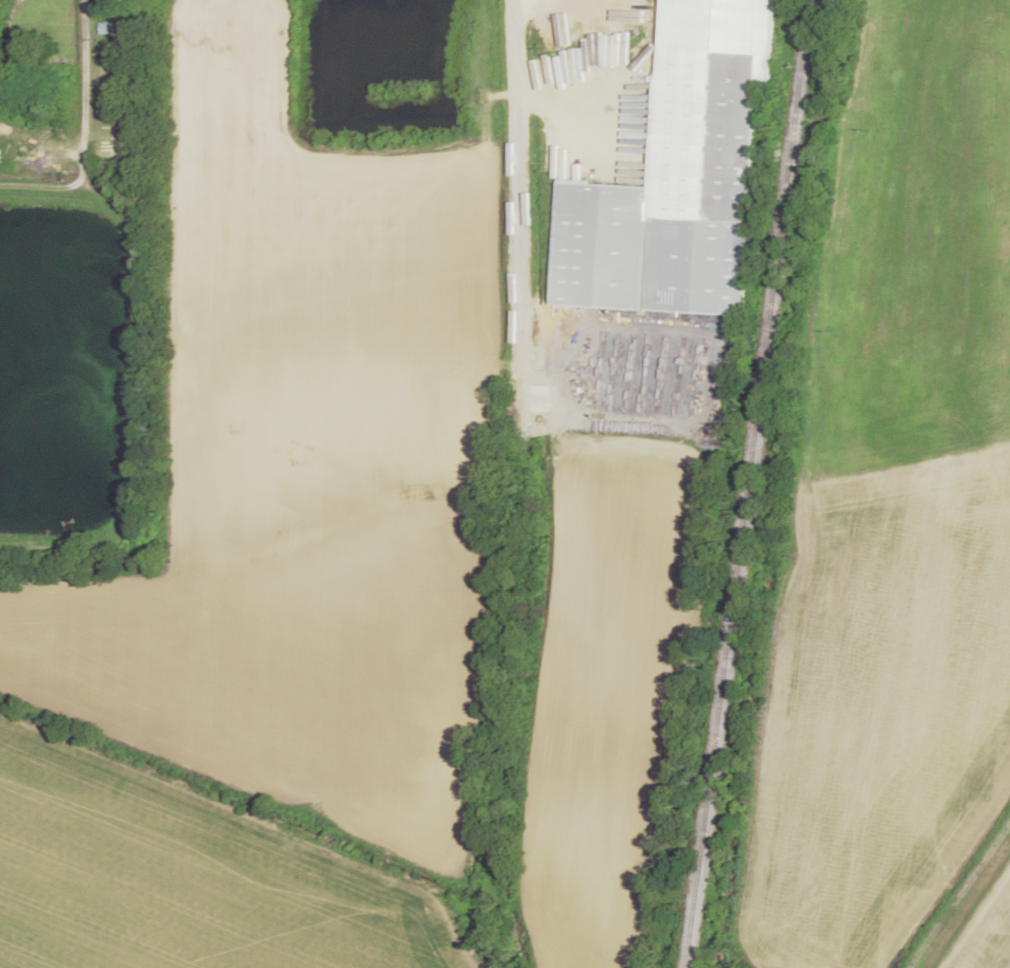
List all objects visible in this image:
building: (109, 96)
road: (517, 149)
building: (676, 177)
railway: (746, 484)

